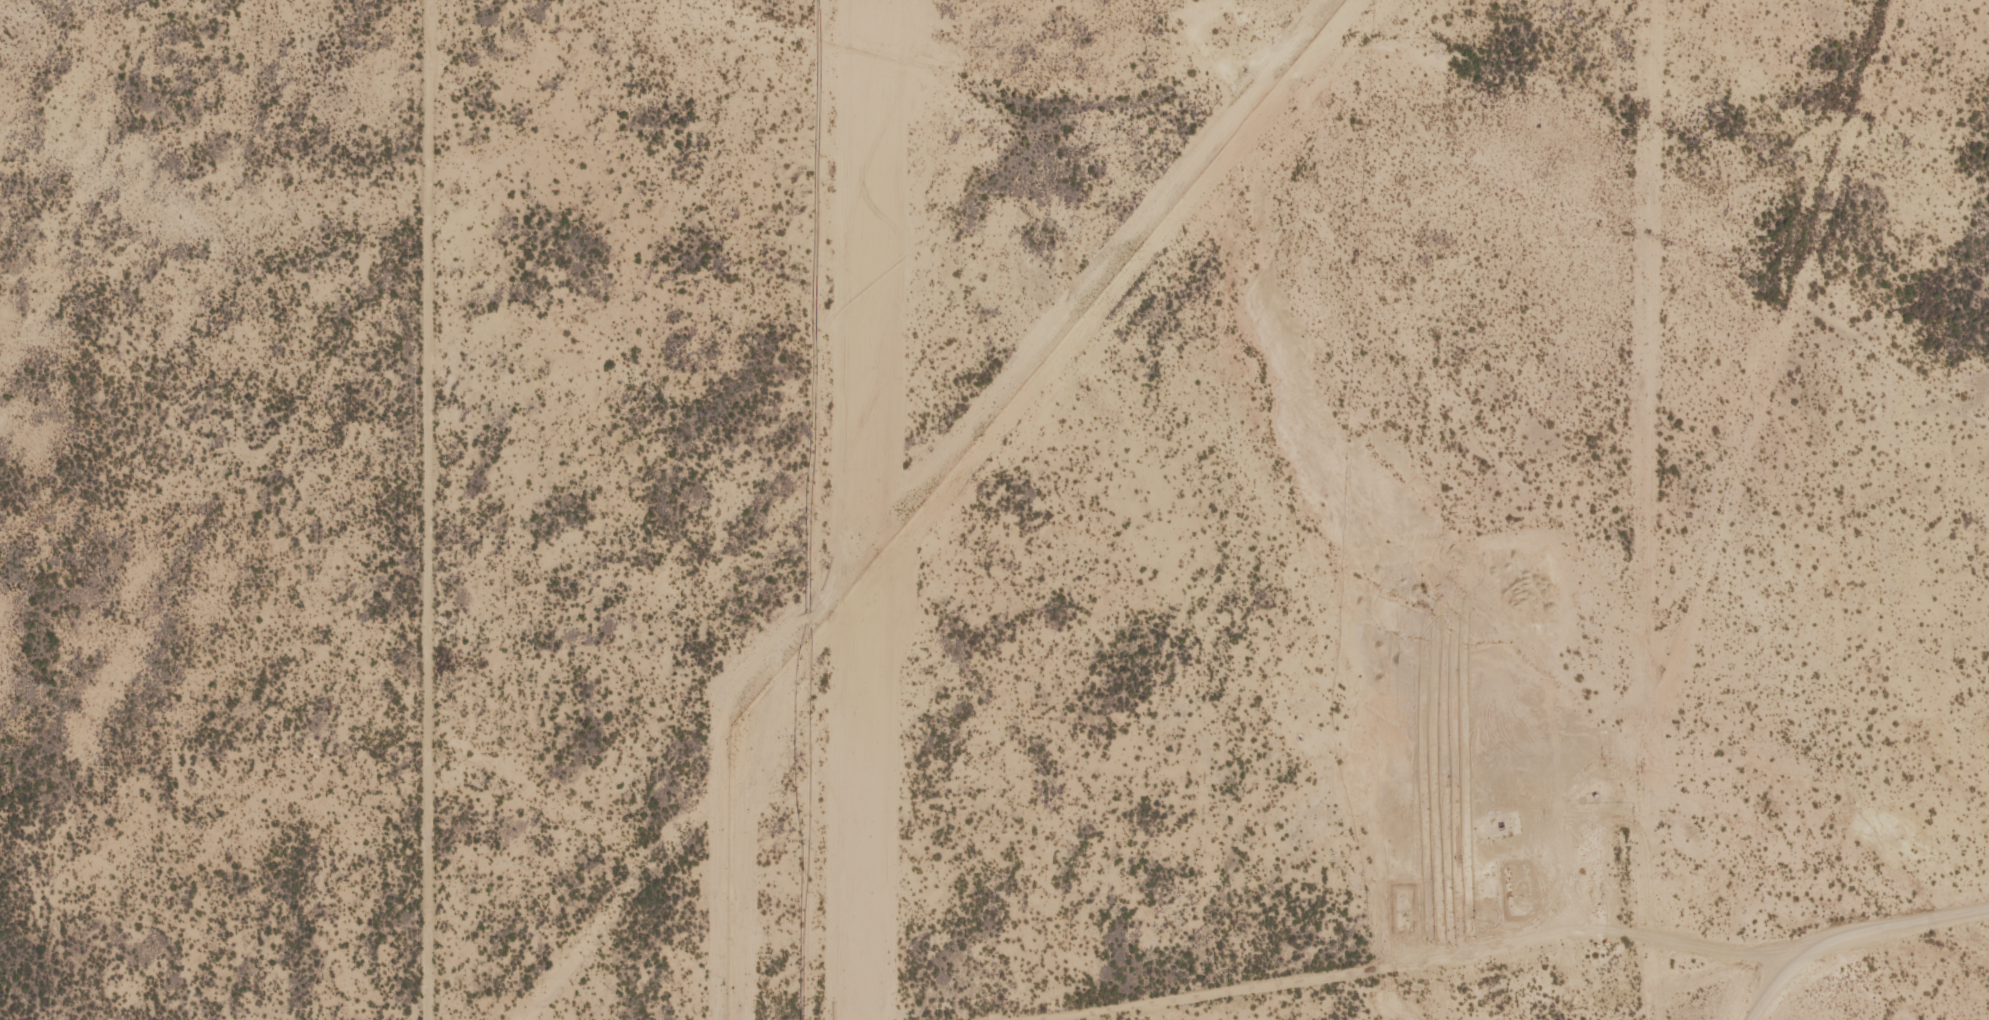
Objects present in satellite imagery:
road: (946, 124)
road: (1543, 226)
road: (1523, 508)
road: (451, 510)
road: (1370, 935)

